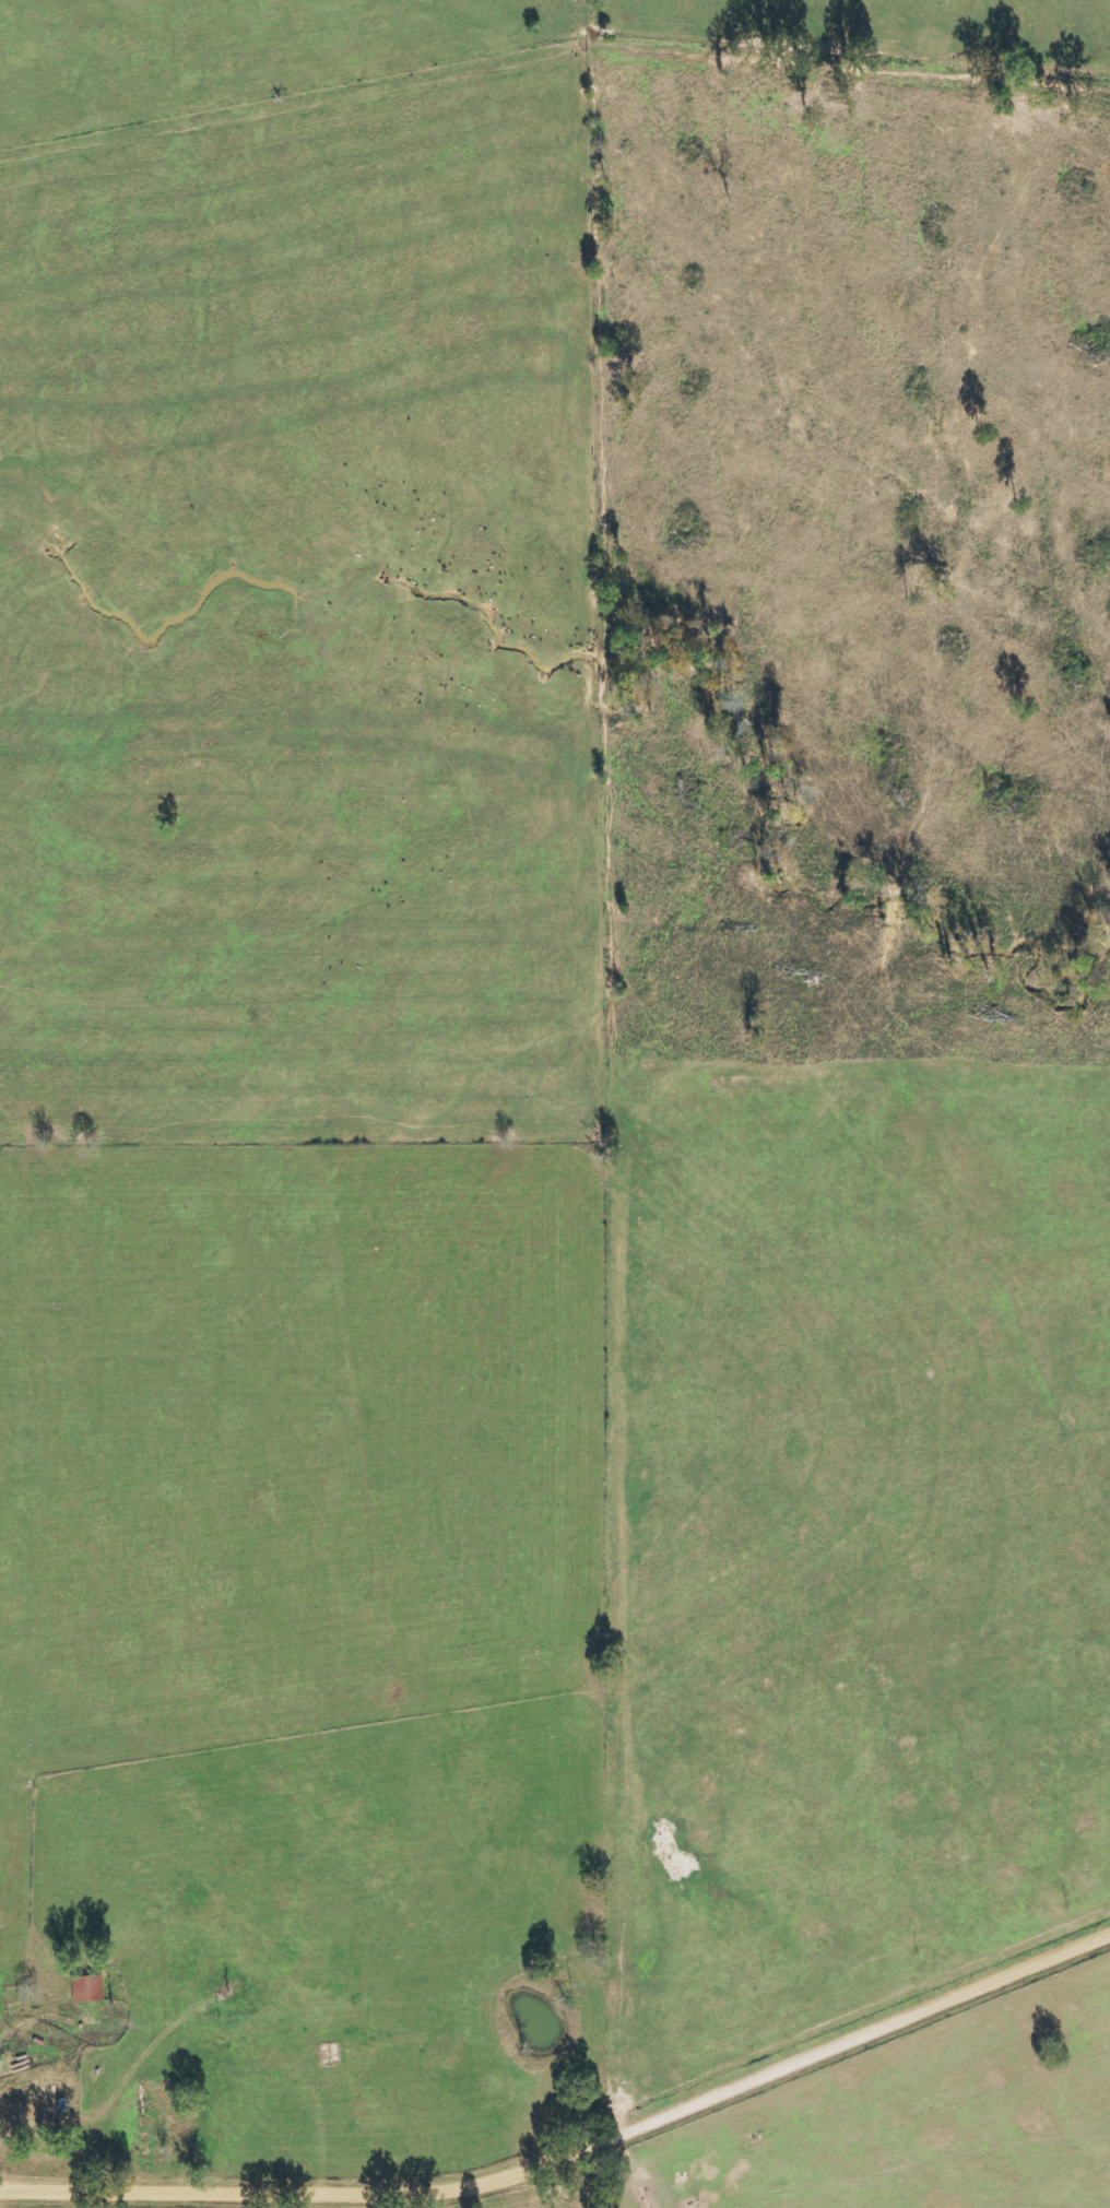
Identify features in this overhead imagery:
road: (572, 2157)

